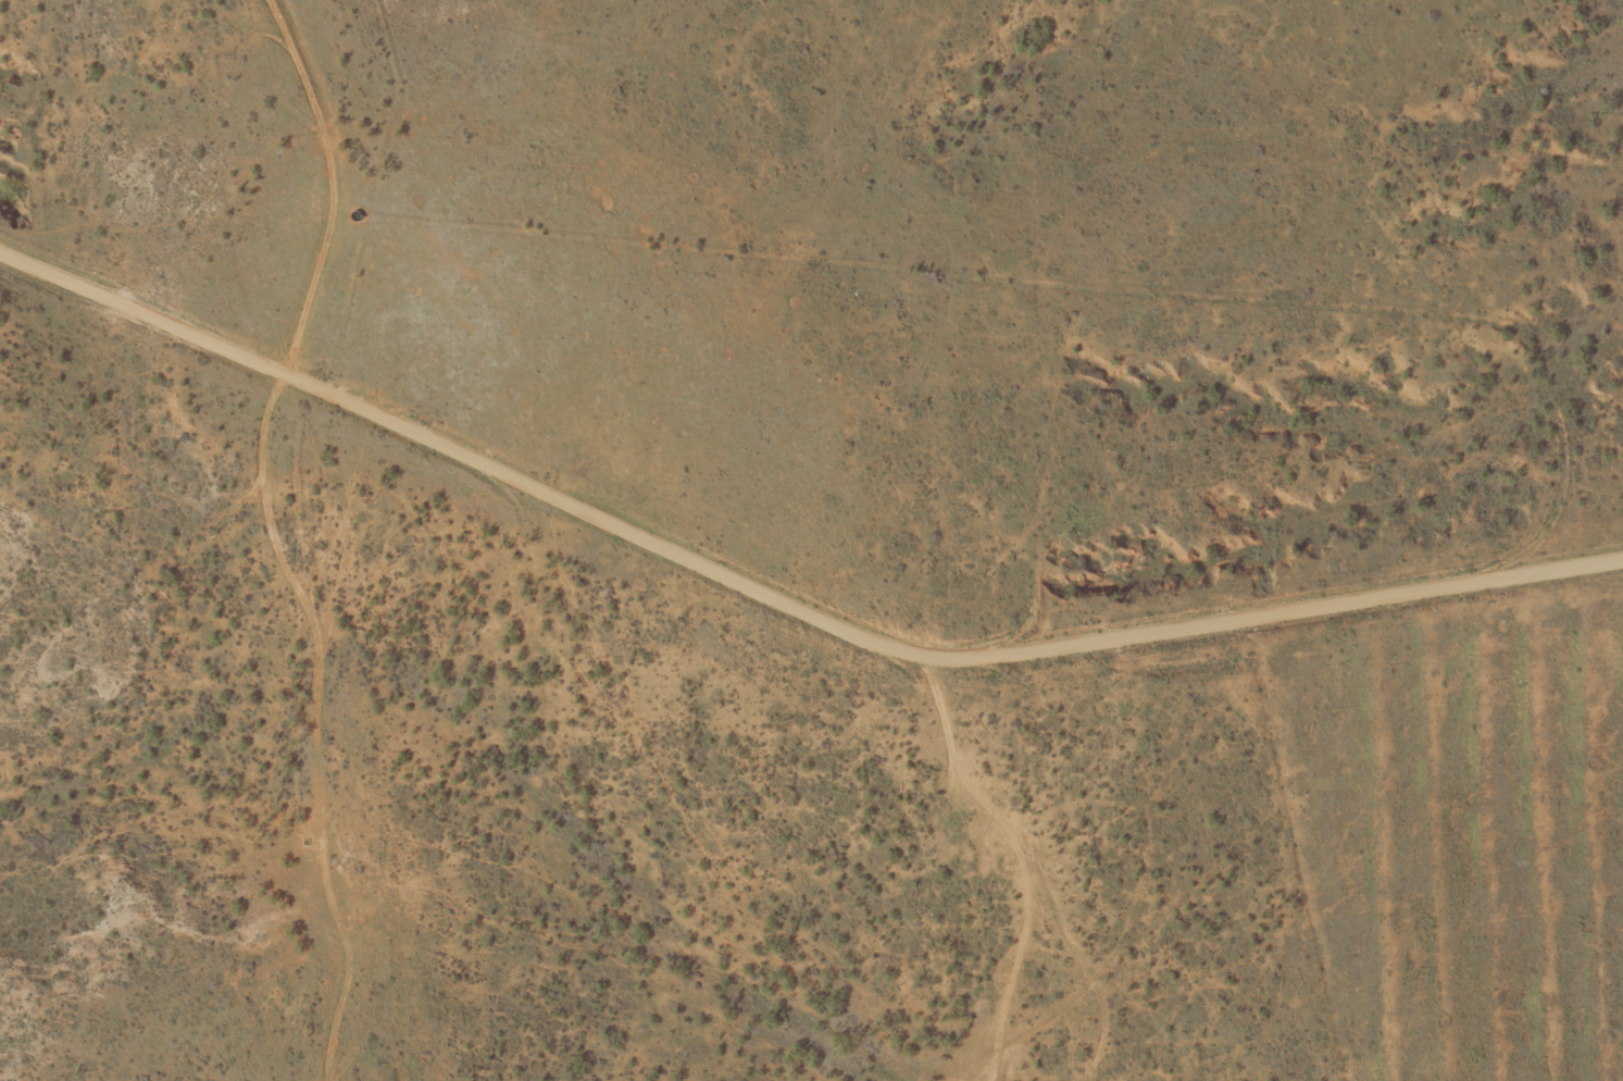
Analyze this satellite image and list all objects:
road: (324, 174)
road: (781, 572)

